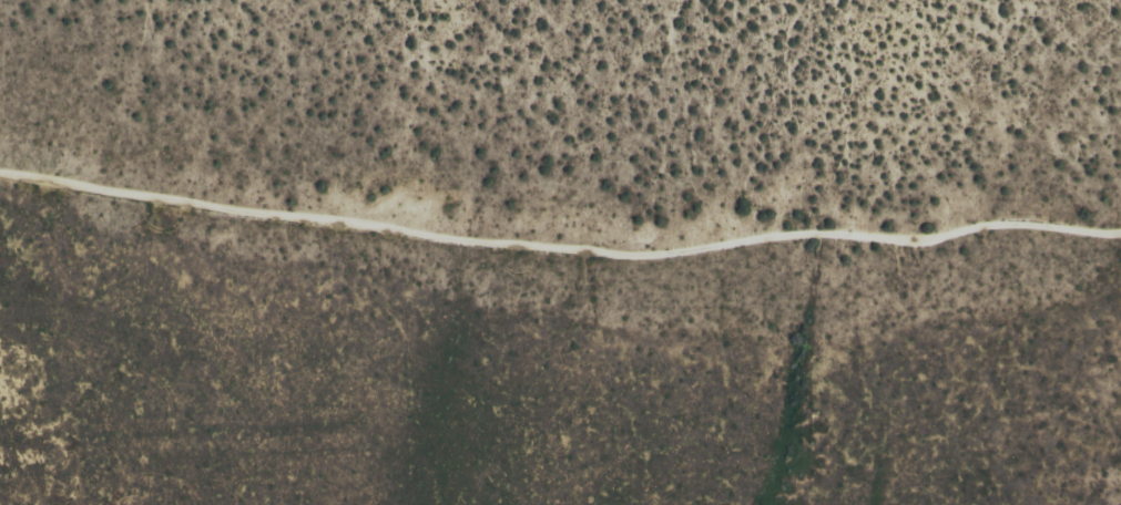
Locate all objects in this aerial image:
road: (560, 249)

